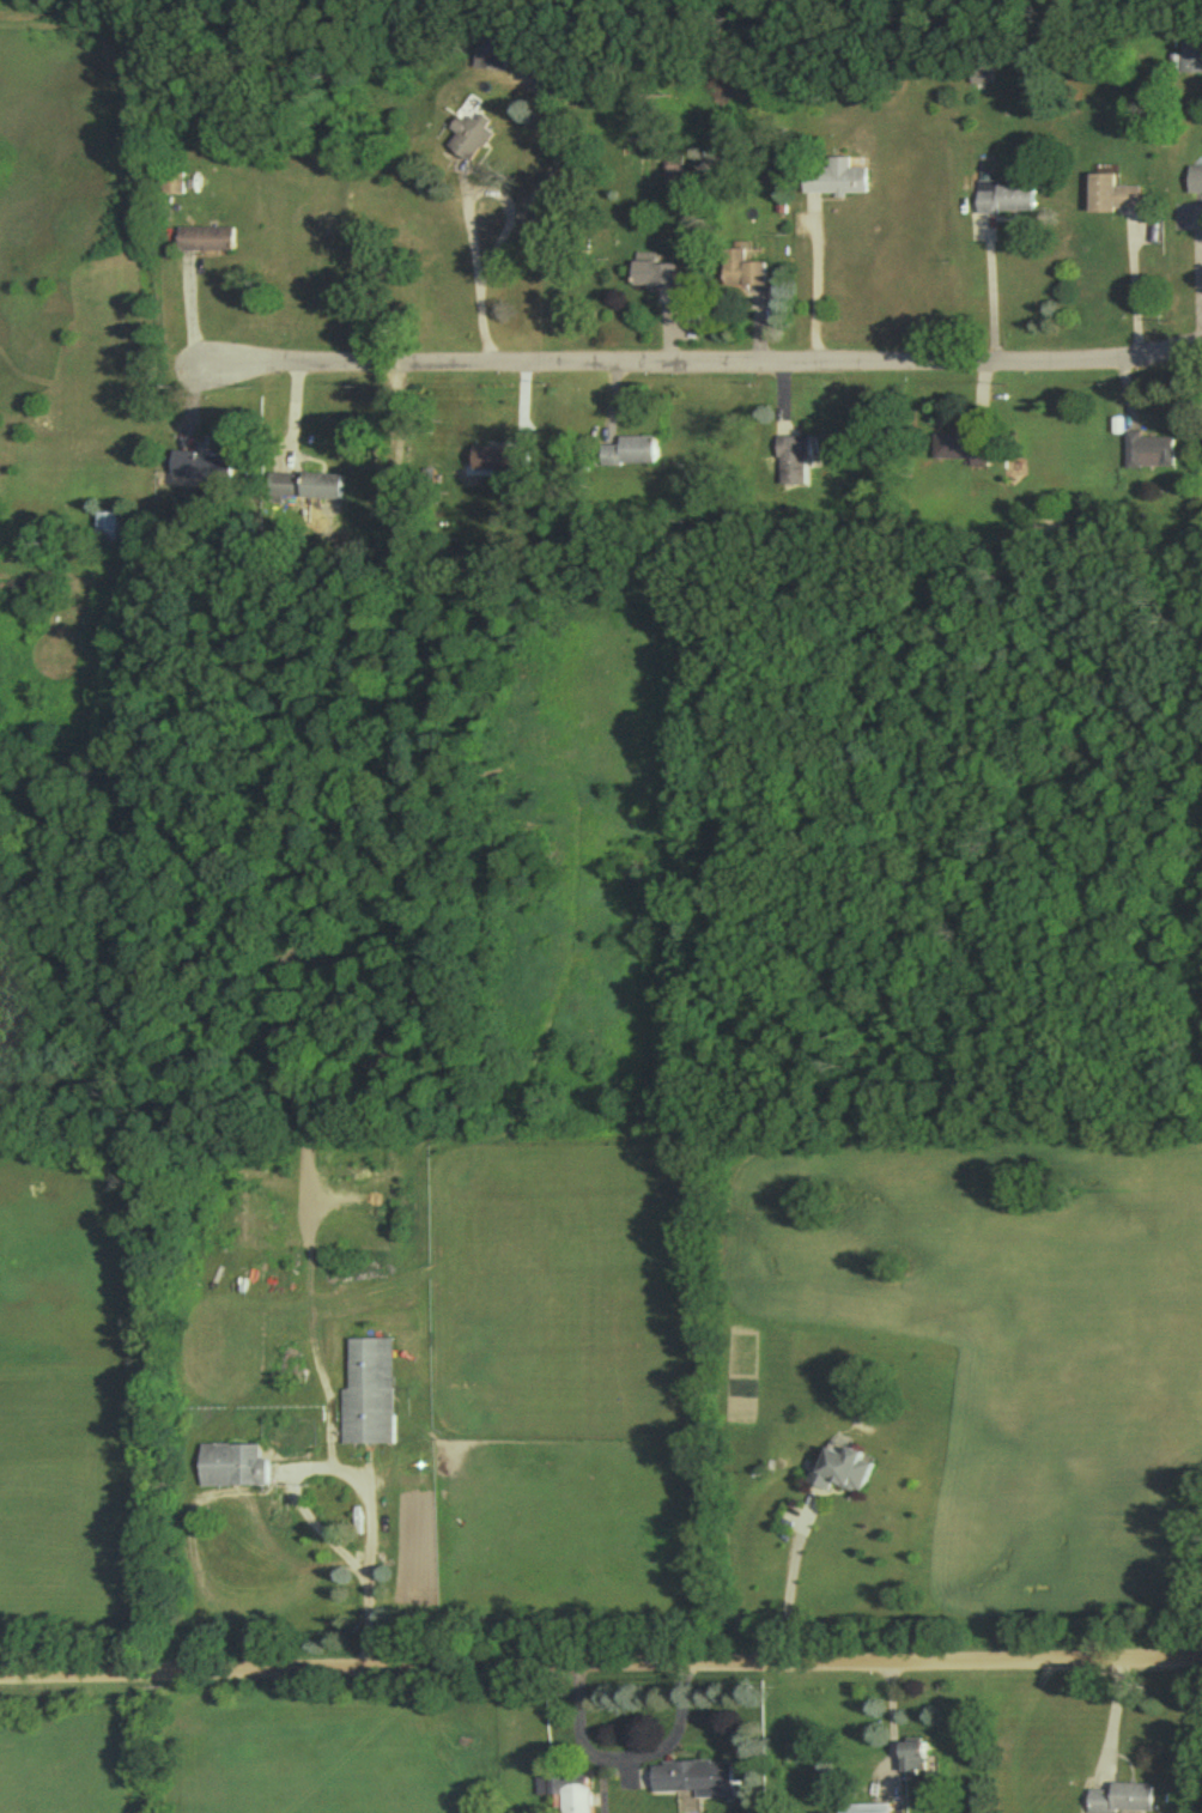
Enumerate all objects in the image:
building: (1191, 60)
building: (467, 140)
building: (673, 175)
building: (834, 183)
building: (1195, 186)
building: (174, 188)
building: (1111, 200)
building: (1004, 204)
building: (205, 244)
road: (478, 267)
building: (741, 275)
building: (652, 278)
road: (819, 284)
road: (1135, 287)
road: (991, 298)
road: (690, 364)
building: (960, 448)
building: (633, 455)
building: (1149, 455)
building: (491, 462)
building: (795, 465)
building: (200, 471)
building: (304, 490)
building: (105, 535)
building: (369, 1397)
building: (232, 1471)
building: (840, 1474)
road: (357, 1579)
road: (788, 1579)
road: (600, 1665)
road: (1109, 1721)
road: (886, 1723)
road: (626, 1756)
building: (912, 1762)
building: (693, 1783)
building: (575, 1797)
building: (1122, 1801)
building: (863, 1811)

